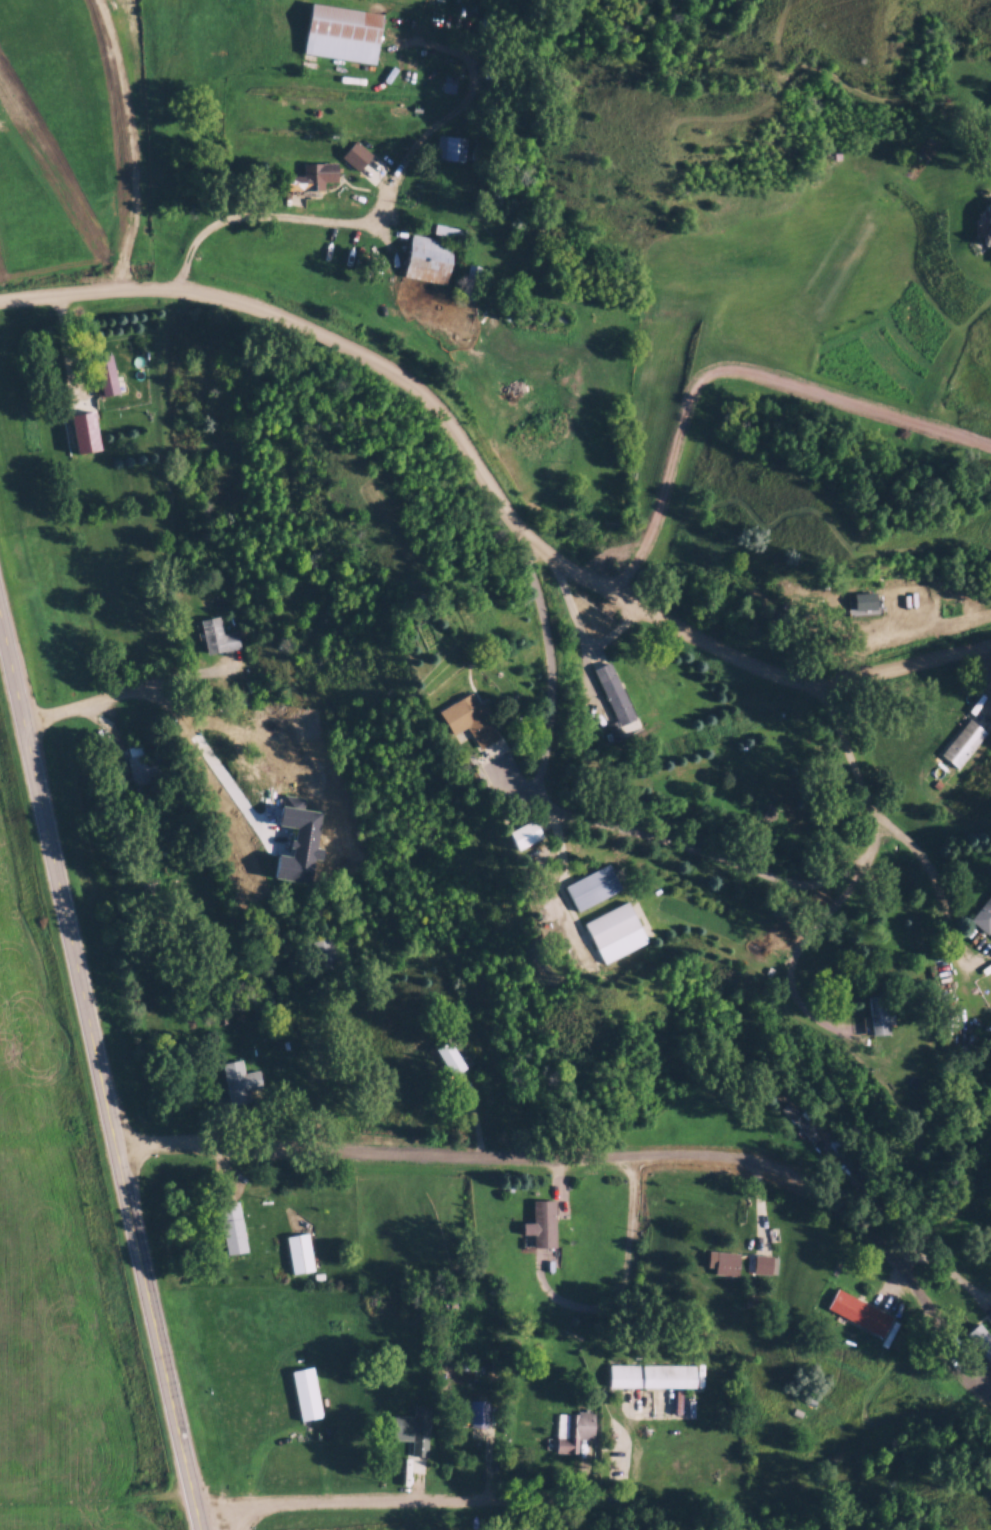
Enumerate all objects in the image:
building: (345, 32)
building: (452, 147)
building: (357, 155)
building: (315, 176)
road: (378, 207)
building: (989, 227)
building: (450, 231)
building: (430, 259)
building: (472, 281)
road: (734, 372)
building: (107, 375)
road: (487, 490)
building: (867, 600)
building: (219, 637)
road: (548, 690)
road: (109, 697)
building: (615, 698)
road: (242, 716)
building: (474, 721)
building: (963, 742)
road: (637, 743)
building: (263, 746)
building: (139, 766)
road: (890, 827)
building: (528, 835)
building: (594, 887)
building: (984, 916)
building: (617, 931)
road: (807, 933)
building: (326, 951)
building: (880, 1014)
road: (102, 1057)
building: (452, 1058)
building: (240, 1081)
building: (803, 1121)
road: (529, 1153)
building: (543, 1223)
building: (236, 1224)
building: (300, 1252)
building: (729, 1262)
building: (763, 1263)
road: (951, 1272)
building: (380, 1303)
building: (861, 1311)
building: (468, 1364)
building: (653, 1376)
building: (311, 1389)
building: (479, 1412)
building: (412, 1426)
building: (573, 1432)
building: (431, 1456)
road: (412, 1501)
park: (658, 1511)
road: (203, 1526)

